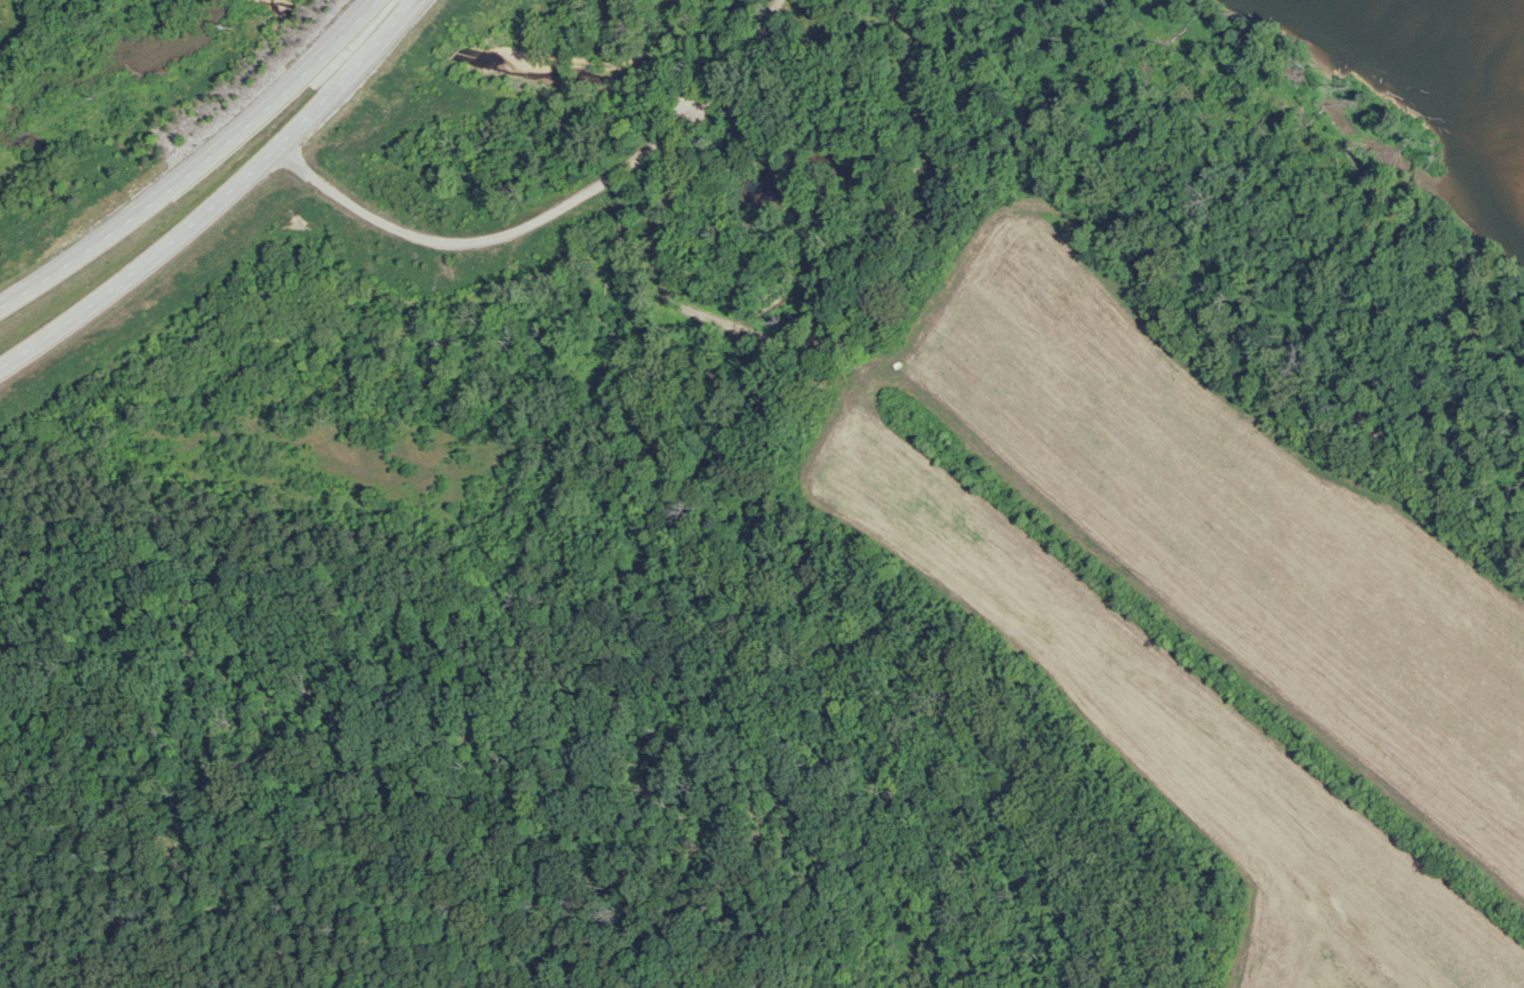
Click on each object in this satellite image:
road: (198, 166)
road: (222, 190)
road: (563, 201)
road: (282, 208)

